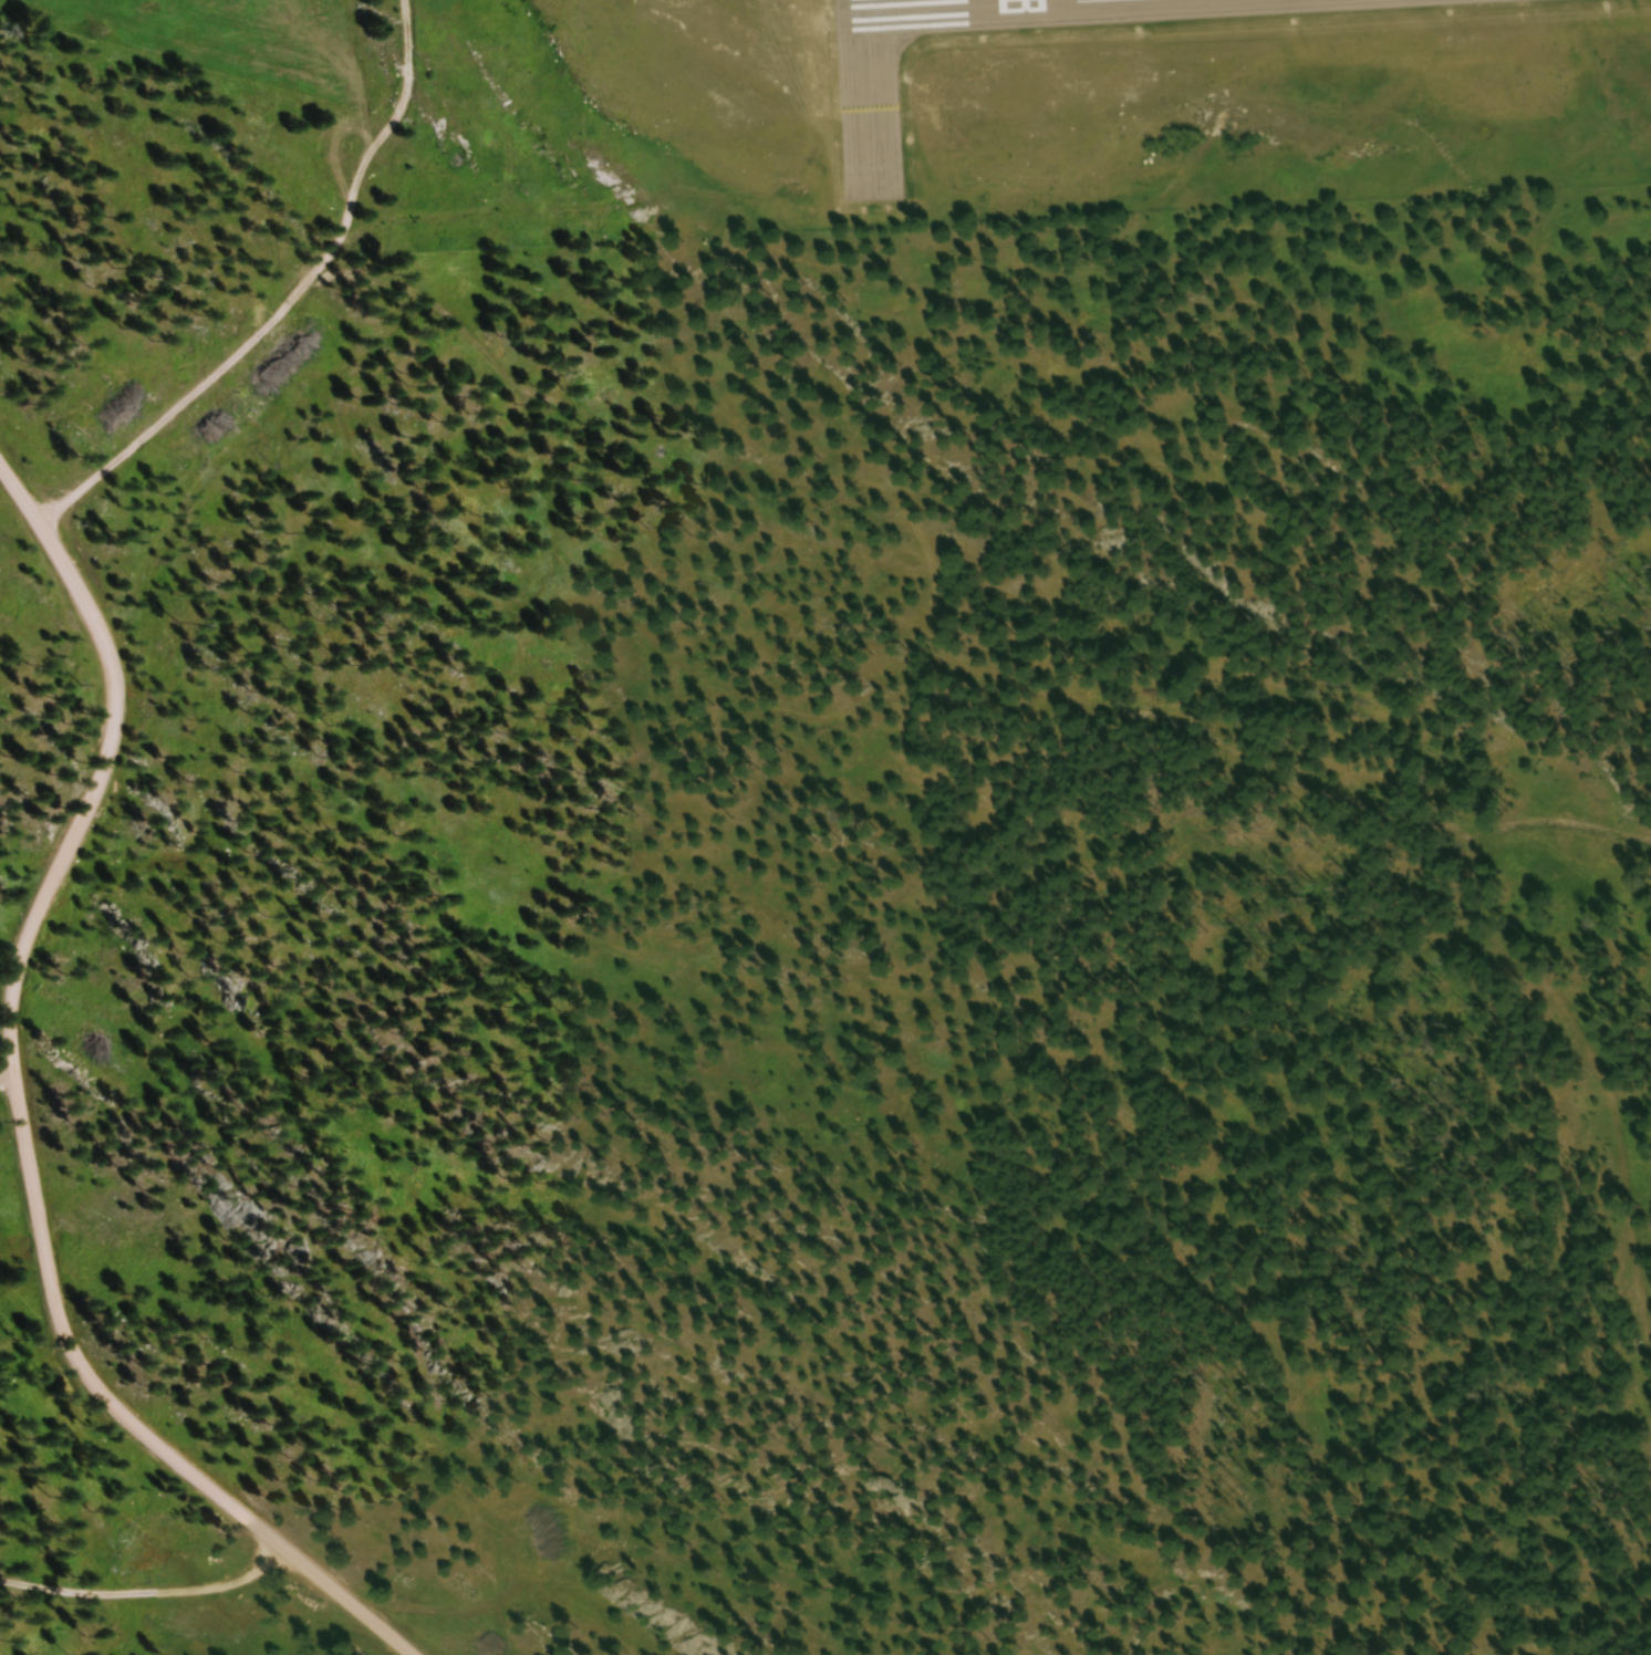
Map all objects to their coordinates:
airport runway: (979, 8)
airport: (1145, 105)
road: (280, 300)
road: (18, 1122)
road: (143, 1588)

